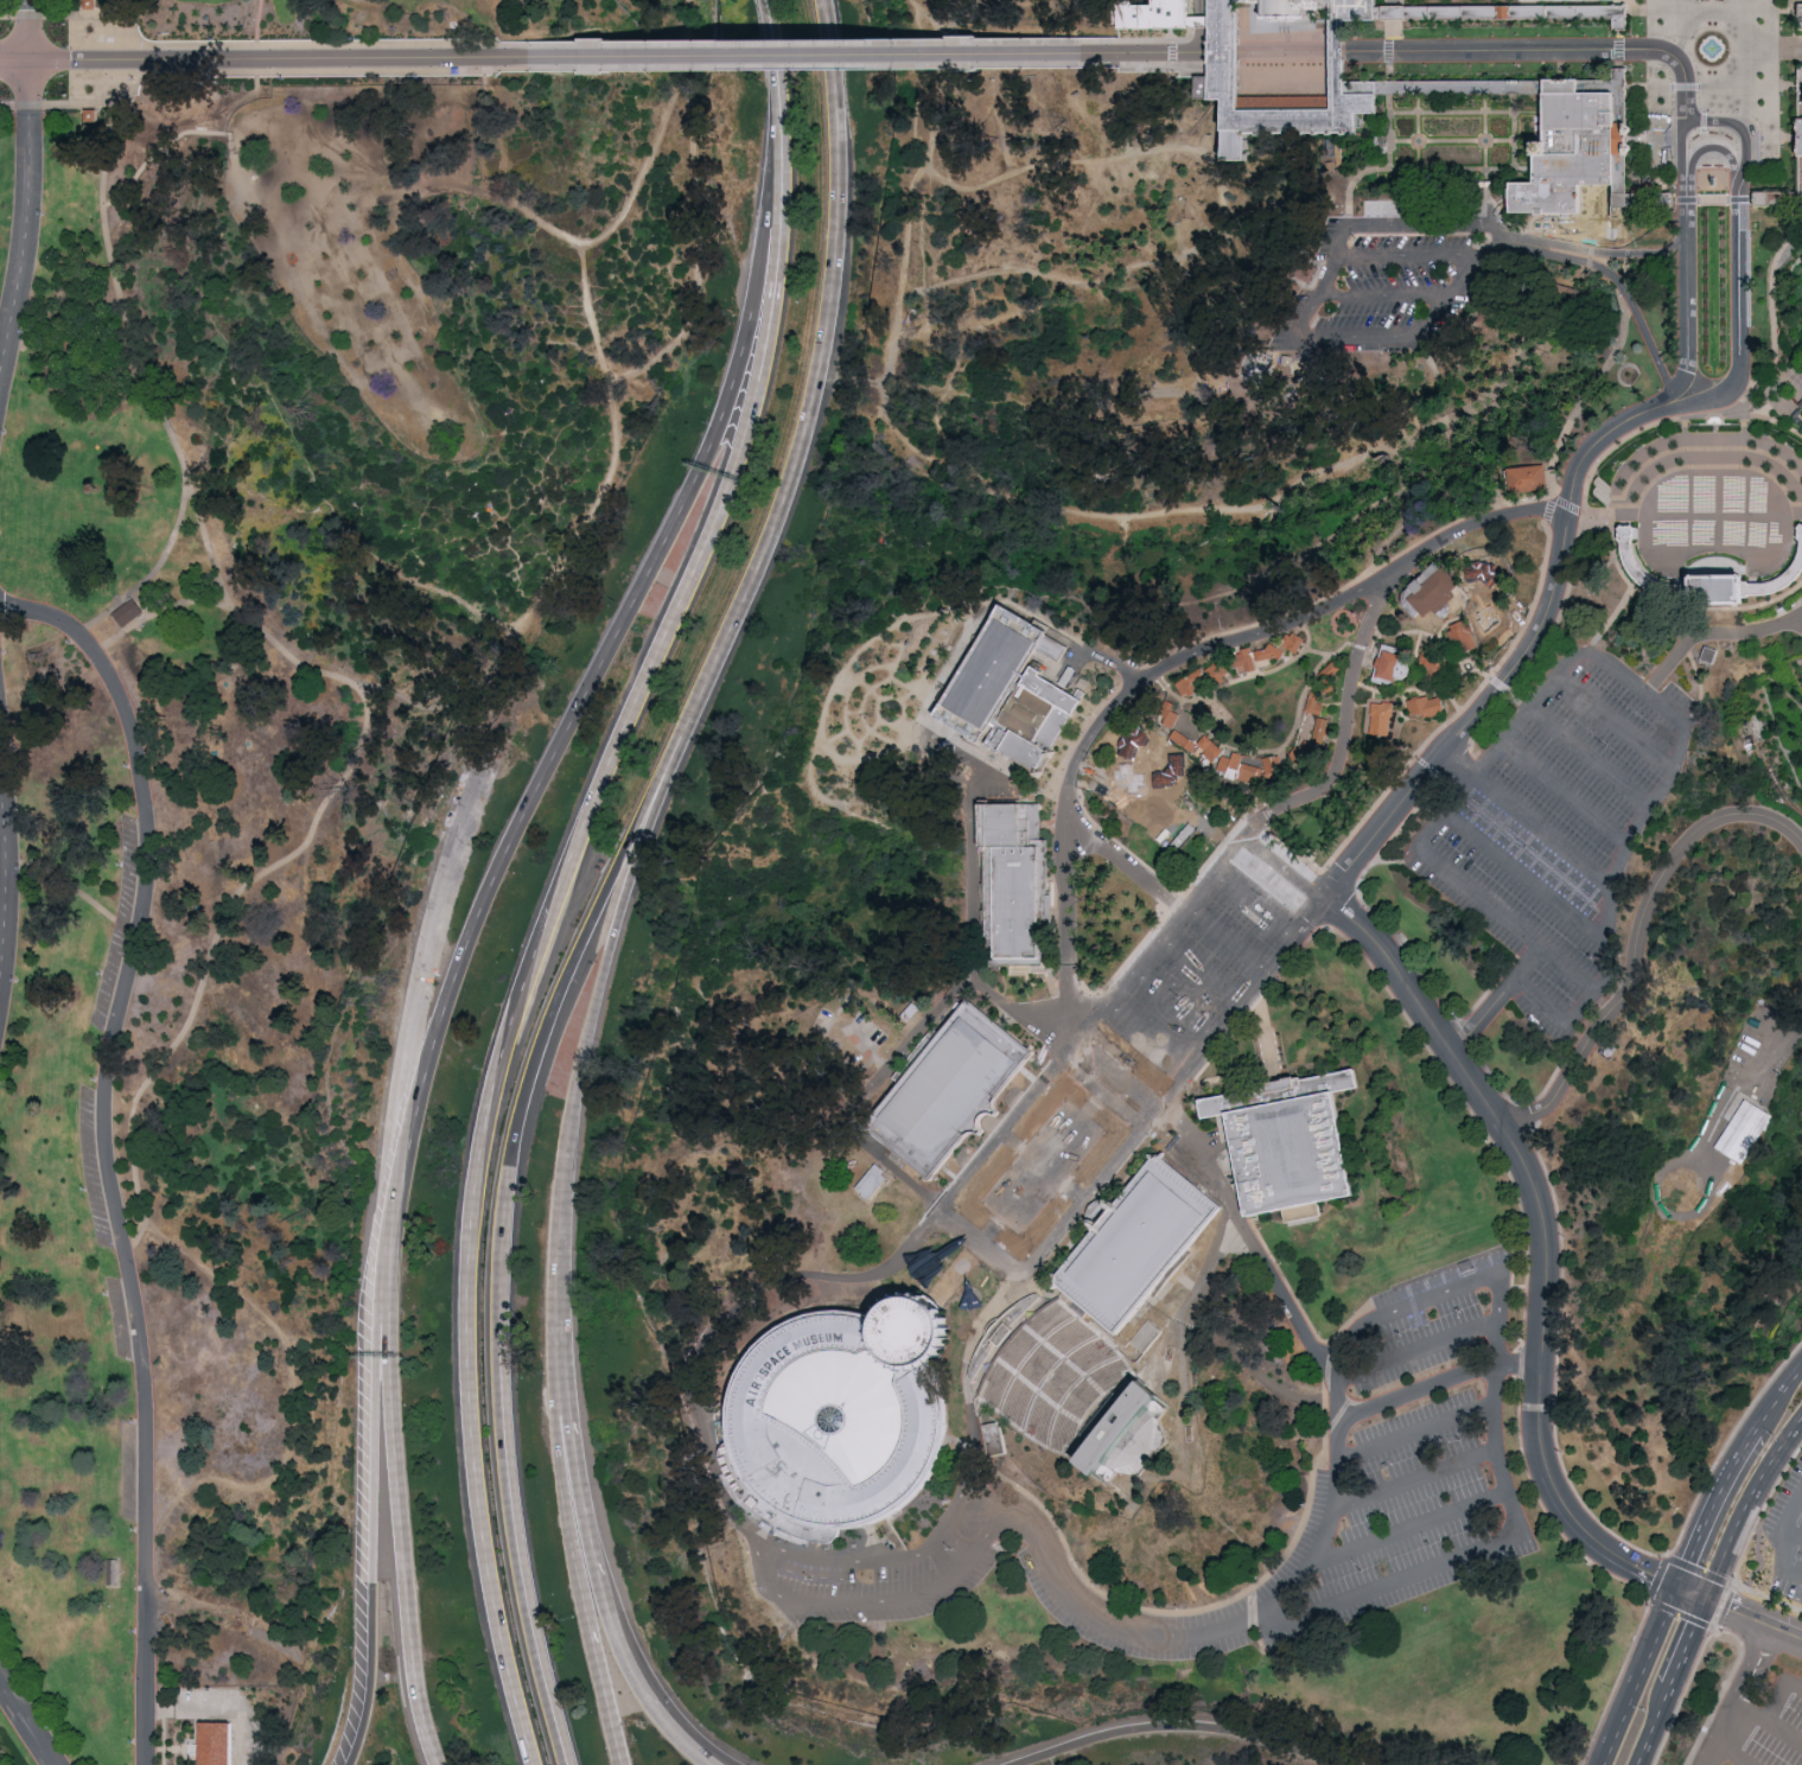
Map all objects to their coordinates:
road: (940, 0)
building: (1569, 1)
building: (93, 4)
road: (1393, 4)
road: (1395, 4)
building: (1297, 7)
road: (921, 8)
road: (934, 8)
road: (1798, 13)
building: (1166, 14)
building: (1508, 14)
road: (1393, 15)
road: (70, 17)
road: (1509, 18)
road: (686, 19)
road: (1294, 20)
road: (1367, 20)
building: (1798, 20)
road: (1216, 21)
road: (259, 24)
road: (1620, 24)
road: (1393, 30)
road: (1185, 40)
road: (1146, 42)
road: (813, 45)
road: (272, 47)
road: (1393, 49)
road: (1620, 49)
road: (1779, 50)
road: (1507, 51)
fountain: (1712, 51)
road: (1172, 52)
road: (1346, 52)
road: (1373, 52)
road: (1169, 53)
road: (1234, 53)
road: (1294, 53)
road: (813, 56)
road: (268, 59)
road: (778, 59)
road: (14, 62)
road: (1146, 64)
road: (1195, 64)
road: (1234, 64)
road: (1306, 64)
road: (813, 66)
road: (1675, 66)
road: (1392, 70)
building: (1234, 71)
road: (274, 72)
road: (1712, 72)
road: (1620, 77)
road: (1341, 84)
road: (1392, 85)
building: (1451, 85)
road: (1788, 87)
road: (1800, 87)
road: (1687, 88)
road: (1738, 88)
road: (1365, 89)
road: (1510, 89)
road: (1654, 89)
road: (1421, 91)
road: (1490, 91)
road: (1517, 91)
road: (1779, 91)
road: (1454, 113)
road: (1002, 117)
road: (1737, 127)
road: (1392, 130)
road: (1422, 130)
road: (1490, 130)
road: (1517, 130)
road: (197, 133)
road: (1704, 134)
fountain: (1484, 139)
road: (1454, 140)
building: (1798, 141)
fountain: (1418, 142)
building: (1580, 142)
road: (1793, 145)
road: (1628, 146)
road: (1708, 148)
building: (1243, 149)
road: (1747, 151)
road: (1685, 152)
road: (508, 155)
road: (1421, 168)
road: (136, 176)
road: (1651, 187)
road: (641, 189)
road: (27, 190)
road: (981, 190)
road: (1629, 202)
road: (1654, 202)
road: (1777, 202)
road: (1686, 203)
road: (1740, 203)
road: (1728, 208)
road: (1496, 214)
road: (770, 216)
road: (1801, 218)
road: (1419, 219)
road: (1497, 228)
road: (1537, 232)
road: (1405, 254)
road: (1600, 254)
road: (698, 255)
road: (1192, 256)
road: (1337, 256)
road: (1466, 257)
road: (1483, 263)
parking lot: (1394, 278)
road: (1618, 286)
road: (1553, 287)
road: (1384, 294)
road: (1616, 305)
road: (121, 311)
road: (1314, 313)
road: (1687, 313)
road: (1432, 316)
road: (1772, 319)
road: (1739, 334)
road: (1358, 337)
road: (1616, 349)
road: (826, 355)
road: (1777, 356)
road: (1771, 404)
building: (1800, 406)
road: (1465, 412)
toll booth: (1796, 418)
road: (1798, 419)
road: (1683, 421)
fountain: (1713, 422)
road: (286, 425)
road: (1781, 427)
road: (1637, 433)
road: (1612, 445)
road: (618, 452)
road: (1584, 459)
road: (934, 464)
building: (1517, 483)
road: (1554, 499)
road: (1610, 502)
road: (1605, 530)
road: (1612, 530)
road: (154, 572)
building: (1481, 574)
road: (1622, 575)
building: (1711, 581)
road: (1356, 584)
road: (1144, 592)
building: (1433, 592)
road: (1228, 593)
road: (1481, 599)
road: (141, 607)
road: (228, 610)
road: (1719, 611)
building: (126, 613)
road: (1300, 614)
building: (1485, 619)
road: (1801, 619)
road: (973, 625)
road: (1424, 632)
building: (1464, 636)
road: (1712, 636)
road: (872, 638)
building: (1298, 643)
road: (1356, 644)
road: (1415, 644)
road: (893, 645)
road: (1596, 645)
road: (1318, 650)
road: (1587, 651)
building: (1269, 652)
road: (930, 654)
building: (1248, 660)
road: (1467, 660)
road: (1177, 664)
building: (1394, 664)
road: (1074, 665)
road: (1116, 665)
building: (1333, 665)
road: (1454, 669)
parking lot: (1800, 669)
building: (1218, 671)
road: (1267, 671)
road: (1482, 671)
road: (480, 674)
road: (874, 681)
building: (1191, 682)
road: (861, 684)
road: (1362, 684)
road: (1498, 687)
road: (1407, 690)
road: (908, 694)
building: (1011, 694)
road: (1178, 694)
road: (843, 697)
road: (1534, 702)
building: (1316, 703)
road: (1452, 703)
building: (1426, 705)
road: (853, 712)
building: (1172, 713)
building: (1381, 714)
road: (1457, 718)
road: (1472, 721)
road: (886, 722)
road: (923, 722)
road: (1206, 724)
road: (1087, 725)
road: (1615, 725)
road: (1303, 726)
road: (1308, 727)
road: (1294, 728)
building: (1322, 728)
road: (868, 729)
road: (1344, 729)
road: (836, 734)
building: (1184, 739)
building: (1131, 744)
building: (1211, 747)
building: (1300, 757)
road: (1163, 759)
road: (1588, 759)
road: (554, 762)
building: (1231, 763)
building: (1271, 764)
road: (1460, 765)
road: (1431, 769)
building: (1252, 772)
building: (1169, 775)
road: (1146, 777)
road: (1225, 778)
road: (1065, 779)
building: (1127, 780)
road: (1662, 788)
road: (1049, 792)
road: (1565, 795)
road: (857, 804)
road: (1198, 804)
road: (1150, 809)
road: (1266, 830)
parking lot: (1558, 830)
road: (1542, 835)
road: (1118, 843)
road: (1248, 843)
road: (1526, 847)
road: (1215, 849)
road: (1399, 861)
road: (2, 866)
road: (5, 867)
road: (1125, 867)
park: (899, 878)
road: (1523, 879)
road: (1339, 881)
road: (629, 882)
building: (1011, 890)
road: (75, 892)
road: (1482, 900)
road: (1171, 901)
road: (1250, 910)
road: (970, 919)
road: (543, 928)
parking lot: (116, 929)
road: (1638, 938)
road: (1223, 944)
road: (1301, 949)
road: (216, 951)
road: (1605, 951)
road: (1139, 961)
road: (1123, 964)
parking lot: (1203, 967)
road: (1196, 976)
road: (1494, 983)
road: (424, 985)
road: (1065, 988)
road: (1254, 989)
road: (1498, 1000)
road: (558, 1001)
road: (1167, 1011)
road: (1556, 1019)
road: (1094, 1024)
road: (1085, 1028)
road: (1138, 1046)
road: (1220, 1047)
building: (1745, 1047)
road: (1065, 1053)
road: (1115, 1069)
road: (1266, 1071)
road: (1115, 1077)
road: (1268, 1079)
road: (1106, 1081)
building: (1726, 1081)
building: (944, 1087)
road: (1744, 1090)
road: (1541, 1091)
road: (1167, 1095)
road: (1099, 1097)
road: (865, 1101)
road: (1164, 1101)
road: (1494, 1108)
road: (1151, 1117)
road: (1148, 1120)
road: (1527, 1130)
building: (1744, 1134)
building: (1288, 1146)
road: (108, 1148)
parking lot: (90, 1165)
road: (1038, 1172)
road: (1101, 1194)
road: (1666, 1213)
road: (1250, 1243)
road: (979, 1245)
building: (1138, 1245)
road: (1216, 1251)
road: (1524, 1257)
building: (1464, 1264)
road: (957, 1273)
road: (559, 1293)
road: (1434, 1294)
road: (1300, 1311)
building: (1275, 1318)
parking lot: (117, 1320)
road: (724, 1324)
road: (1503, 1343)
road: (1425, 1347)
road: (1180, 1351)
road: (1523, 1364)
road: (1256, 1371)
road: (967, 1375)
road: (565, 1381)
road: (1422, 1389)
building: (1069, 1390)
road: (294, 1396)
road: (1344, 1396)
road: (1776, 1397)
building: (841, 1420)
road: (1420, 1431)
road: (1741, 1451)
road: (1499, 1452)
road: (1778, 1453)
parking lot: (1412, 1459)
road: (575, 1461)
parking lot: (127, 1476)
road: (1418, 1480)
road: (376, 1497)
road: (402, 1497)
road: (1562, 1503)
road: (1414, 1529)
road: (1702, 1529)
road: (1333, 1530)
road: (1795, 1531)
parking lot: (1789, 1536)
road: (1784, 1541)
road: (1730, 1544)
road: (1744, 1544)
road: (927, 1553)
road: (520, 1554)
road: (577, 1565)
parking lot: (877, 1568)
building: (110, 1575)
road: (1394, 1586)
traffic signals: (1676, 1587)
road: (1690, 1593)
traffic signals: (1706, 1600)
road: (866, 1604)
road: (1211, 1605)
road: (606, 1606)
road: (1753, 1618)
road: (1113, 1625)
road: (229, 1629)
road: (1714, 1630)
road: (1687, 1643)
road: (1756, 1667)
road: (1639, 1676)
road: (1616, 1682)
road: (1720, 1691)
road: (1782, 1693)
road: (607, 1696)
road: (1681, 1696)
road: (655, 1709)
road: (1770, 1722)
road: (24, 1725)
road: (1653, 1726)
road: (1177, 1727)
parking lot: (1758, 1728)
road: (1724, 1735)
road: (694, 1738)
road: (681, 1740)
building: (209, 1746)
road: (1734, 1756)

